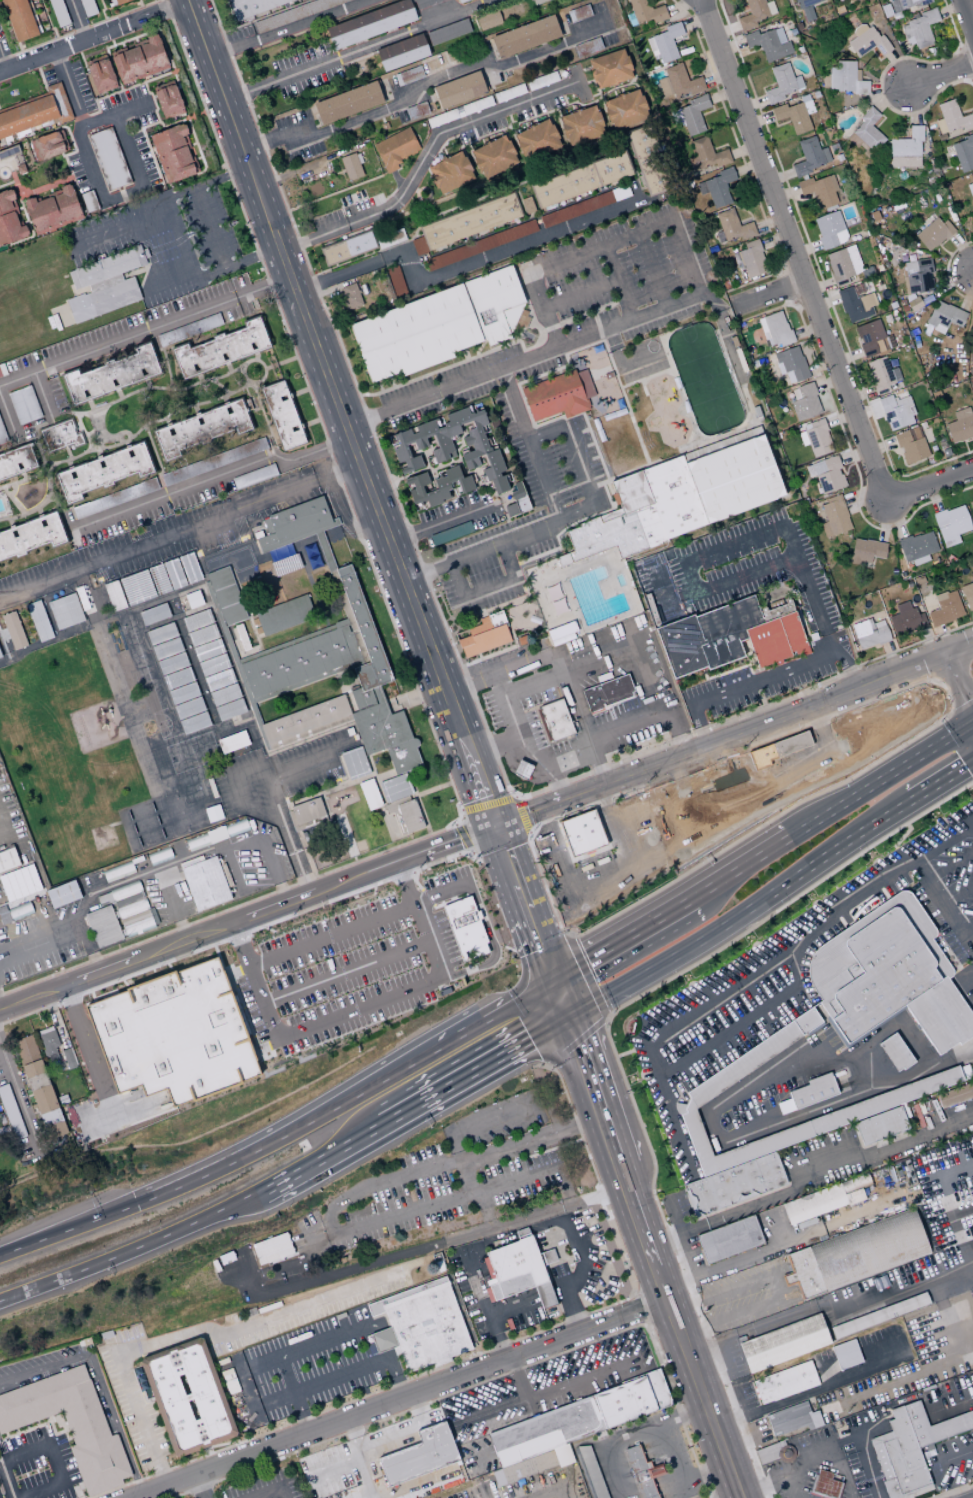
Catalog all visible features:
building: (120, 1)
building: (426, 2)
building: (905, 4)
building: (252, 5)
building: (87, 7)
building: (806, 9)
building: (58, 12)
building: (645, 12)
building: (578, 13)
building: (756, 13)
road: (160, 15)
road: (966, 16)
building: (18, 19)
building: (487, 20)
road: (78, 21)
building: (369, 24)
road: (284, 29)
building: (918, 29)
building: (447, 32)
building: (524, 36)
building: (866, 39)
building: (665, 43)
building: (768, 43)
building: (587, 47)
road: (65, 49)
road: (361, 51)
building: (401, 52)
building: (139, 60)
road: (2, 66)
building: (609, 68)
road: (452, 71)
road: (942, 73)
building: (408, 75)
building: (100, 76)
building: (845, 78)
building: (678, 82)
building: (781, 83)
building: (458, 90)
building: (167, 99)
building: (347, 102)
road: (132, 105)
building: (625, 109)
building: (36, 113)
building: (690, 115)
building: (794, 115)
building: (951, 119)
building: (583, 126)
building: (866, 133)
road: (275, 137)
building: (535, 139)
building: (48, 145)
building: (396, 148)
building: (906, 150)
building: (173, 153)
building: (963, 153)
building: (705, 156)
building: (810, 156)
building: (108, 159)
road: (420, 159)
building: (493, 159)
building: (644, 159)
building: (350, 167)
building: (449, 172)
building: (581, 180)
road: (206, 182)
building: (717, 187)
building: (970, 189)
building: (818, 191)
building: (88, 200)
road: (109, 201)
building: (526, 205)
building: (583, 206)
building: (52, 210)
building: (9, 220)
road: (121, 222)
building: (466, 223)
road: (210, 226)
building: (730, 227)
building: (829, 230)
building: (932, 233)
building: (389, 238)
road: (183, 239)
building: (479, 245)
building: (347, 248)
road: (793, 250)
building: (750, 259)
road: (236, 260)
building: (843, 263)
road: (651, 267)
road: (463, 268)
building: (916, 277)
road: (616, 280)
building: (394, 281)
road: (698, 281)
building: (104, 284)
road: (170, 285)
parking lot: (636, 292)
road: (579, 293)
road: (770, 294)
building: (349, 296)
building: (854, 305)
road: (543, 308)
building: (943, 316)
building: (972, 316)
building: (437, 326)
building: (188, 329)
building: (774, 329)
road: (144, 330)
building: (870, 338)
building: (221, 349)
building: (790, 364)
road: (322, 368)
building: (1, 372)
building: (111, 375)
building: (881, 375)
building: (557, 395)
building: (804, 402)
building: (23, 405)
building: (895, 412)
building: (282, 415)
building: (960, 426)
building: (201, 428)
road: (38, 430)
road: (565, 432)
building: (2, 435)
building: (58, 437)
building: (816, 438)
building: (438, 440)
road: (8, 445)
building: (910, 445)
building: (15, 462)
parking lot: (560, 469)
building: (101, 472)
building: (494, 472)
building: (826, 474)
road: (210, 476)
building: (250, 477)
road: (542, 478)
building: (435, 486)
road: (929, 486)
building: (679, 499)
building: (516, 503)
building: (971, 506)
road: (343, 515)
building: (833, 517)
building: (298, 519)
road: (438, 520)
building: (951, 524)
building: (267, 526)
road: (179, 531)
road: (302, 533)
building: (258, 534)
building: (31, 536)
building: (441, 537)
road: (745, 538)
park: (789, 539)
building: (266, 540)
building: (917, 548)
building: (866, 550)
park: (750, 553)
building: (323, 554)
park: (231, 559)
park: (719, 565)
building: (190, 567)
building: (288, 571)
parking lot: (482, 571)
building: (175, 573)
park: (688, 576)
building: (160, 579)
building: (137, 587)
road: (490, 587)
building: (656, 588)
park: (656, 588)
building: (116, 595)
building: (227, 595)
building: (967, 595)
building: (83, 598)
building: (195, 599)
road: (661, 602)
building: (62, 608)
building: (945, 608)
building: (155, 614)
building: (284, 615)
road: (178, 616)
road: (51, 617)
building: (905, 619)
building: (199, 620)
building: (39, 621)
building: (14, 630)
building: (560, 630)
building: (869, 633)
building: (163, 634)
building: (362, 634)
building: (204, 635)
building: (242, 637)
building: (730, 637)
road: (1, 638)
building: (482, 638)
road: (292, 641)
road: (41, 644)
road: (5, 649)
building: (168, 649)
building: (209, 650)
road: (359, 651)
building: (1, 652)
building: (0, 656)
road: (8, 659)
building: (301, 660)
building: (174, 663)
building: (215, 665)
road: (556, 666)
road: (196, 671)
building: (179, 679)
road: (242, 679)
building: (220, 680)
road: (958, 682)
road: (746, 685)
road: (530, 686)
building: (185, 693)
building: (607, 693)
building: (226, 695)
road: (414, 696)
building: (361, 699)
building: (190, 707)
building: (230, 710)
road: (647, 718)
parking lot: (896, 719)
building: (302, 720)
building: (555, 720)
building: (195, 723)
road: (759, 725)
road: (875, 730)
road: (960, 734)
building: (385, 735)
park: (154, 740)
building: (231, 742)
road: (515, 743)
road: (492, 747)
road: (566, 757)
road: (817, 757)
park: (63, 758)
road: (273, 762)
building: (353, 763)
road: (300, 768)
building: (521, 769)
road: (677, 773)
road: (725, 775)
road: (239, 776)
road: (382, 776)
road: (880, 779)
road: (374, 780)
road: (478, 780)
road: (943, 783)
road: (445, 784)
building: (211, 787)
building: (394, 788)
parking lot: (687, 788)
road: (330, 789)
parking lot: (736, 791)
building: (368, 794)
building: (395, 805)
building: (711, 807)
building: (308, 810)
road: (420, 810)
building: (213, 813)
building: (410, 815)
road: (520, 816)
road: (115, 823)
building: (400, 823)
road: (604, 824)
park: (391, 827)
road: (299, 834)
building: (212, 835)
building: (305, 836)
road: (411, 840)
road: (26, 844)
road: (895, 844)
road: (728, 845)
road: (350, 848)
building: (8, 859)
road: (296, 859)
road: (509, 862)
road: (740, 868)
road: (950, 868)
road: (148, 871)
building: (118, 873)
building: (19, 883)
building: (204, 884)
road: (570, 892)
building: (62, 894)
road: (958, 897)
road: (410, 901)
road: (173, 904)
road: (390, 907)
road: (944, 907)
building: (128, 908)
building: (15, 913)
road: (742, 914)
road: (248, 919)
building: (102, 926)
building: (465, 928)
road: (483, 928)
road: (967, 930)
road: (83, 933)
road: (567, 935)
road: (536, 940)
road: (622, 940)
road: (242, 942)
road: (363, 962)
road: (746, 969)
road: (586, 978)
building: (884, 978)
traffic signals: (553, 981)
road: (560, 1000)
road: (1, 1007)
road: (494, 1013)
road: (743, 1017)
traffic signals: (567, 1019)
road: (322, 1021)
building: (173, 1035)
building: (48, 1042)
road: (86, 1043)
road: (631, 1050)
road: (613, 1052)
building: (895, 1052)
building: (68, 1058)
road: (951, 1058)
road: (474, 1071)
building: (37, 1080)
parking lot: (520, 1089)
road: (592, 1091)
building: (812, 1091)
building: (954, 1095)
building: (876, 1103)
road: (18, 1105)
road: (711, 1108)
building: (904, 1110)
building: (10, 1113)
building: (880, 1125)
road: (323, 1157)
road: (223, 1162)
road: (452, 1166)
road: (824, 1171)
parking lot: (443, 1177)
building: (854, 1183)
building: (733, 1184)
road: (390, 1200)
building: (949, 1201)
traffic signals: (136, 1202)
building: (813, 1204)
road: (431, 1206)
road: (635, 1216)
road: (949, 1221)
road: (487, 1222)
road: (572, 1223)
road: (542, 1236)
building: (955, 1237)
road: (682, 1238)
building: (728, 1239)
road: (783, 1241)
road: (133, 1249)
building: (272, 1249)
building: (855, 1254)
road: (550, 1256)
building: (519, 1269)
road: (660, 1286)
road: (774, 1286)
road: (634, 1293)
road: (543, 1294)
road: (900, 1295)
road: (566, 1296)
road: (511, 1305)
road: (641, 1308)
road: (669, 1312)
road: (645, 1323)
building: (419, 1325)
road: (203, 1329)
building: (782, 1343)
road: (486, 1351)
building: (846, 1354)
road: (709, 1364)
road: (395, 1376)
road: (493, 1377)
road: (98, 1378)
road: (696, 1382)
building: (784, 1382)
road: (813, 1390)
road: (245, 1393)
road: (561, 1395)
building: (188, 1397)
road: (397, 1397)
road: (949, 1402)
road: (301, 1411)
building: (579, 1418)
building: (792, 1418)
road: (36, 1423)
building: (70, 1423)
building: (935, 1424)
road: (65, 1426)
road: (26, 1427)
road: (63, 1429)
road: (16, 1431)
road: (52, 1433)
road: (5, 1434)
road: (354, 1434)
road: (627, 1435)
road: (69, 1437)
road: (374, 1446)
road: (821, 1449)
road: (207, 1450)
building: (774, 1452)
road: (2, 1454)
building: (419, 1455)
building: (562, 1455)
building: (899, 1457)
road: (673, 1460)
road: (959, 1461)
road: (53, 1462)
building: (527, 1466)
building: (588, 1471)
building: (642, 1471)
road: (703, 1472)
road: (870, 1475)
road: (362, 1477)
road: (439, 1478)
road: (6, 1480)
building: (824, 1484)
road: (761, 1485)
road: (197, 1486)
road: (548, 1487)
road: (269, 1490)
road: (955, 1491)
gas station: (698, 1495)

